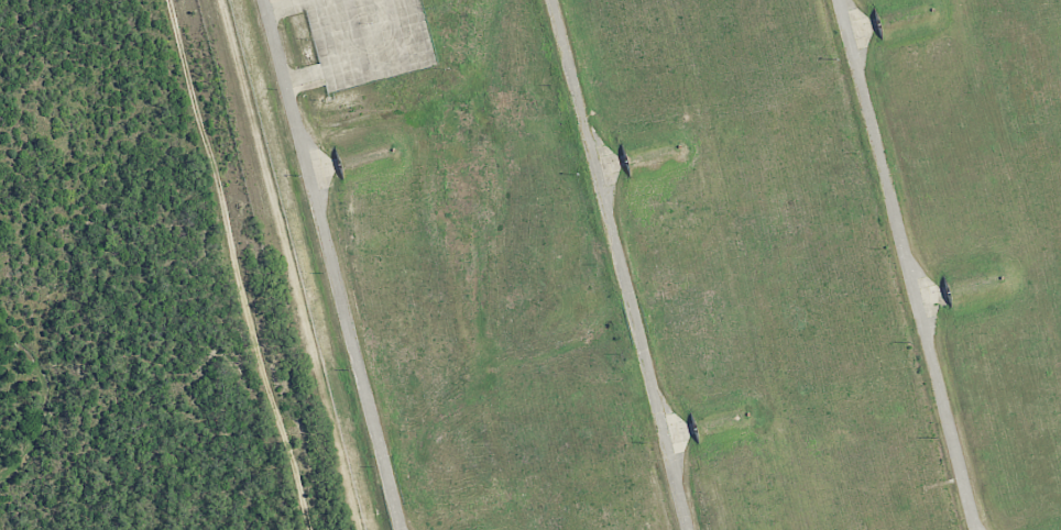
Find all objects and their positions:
road: (333, 264)
road: (620, 265)
road: (907, 265)

